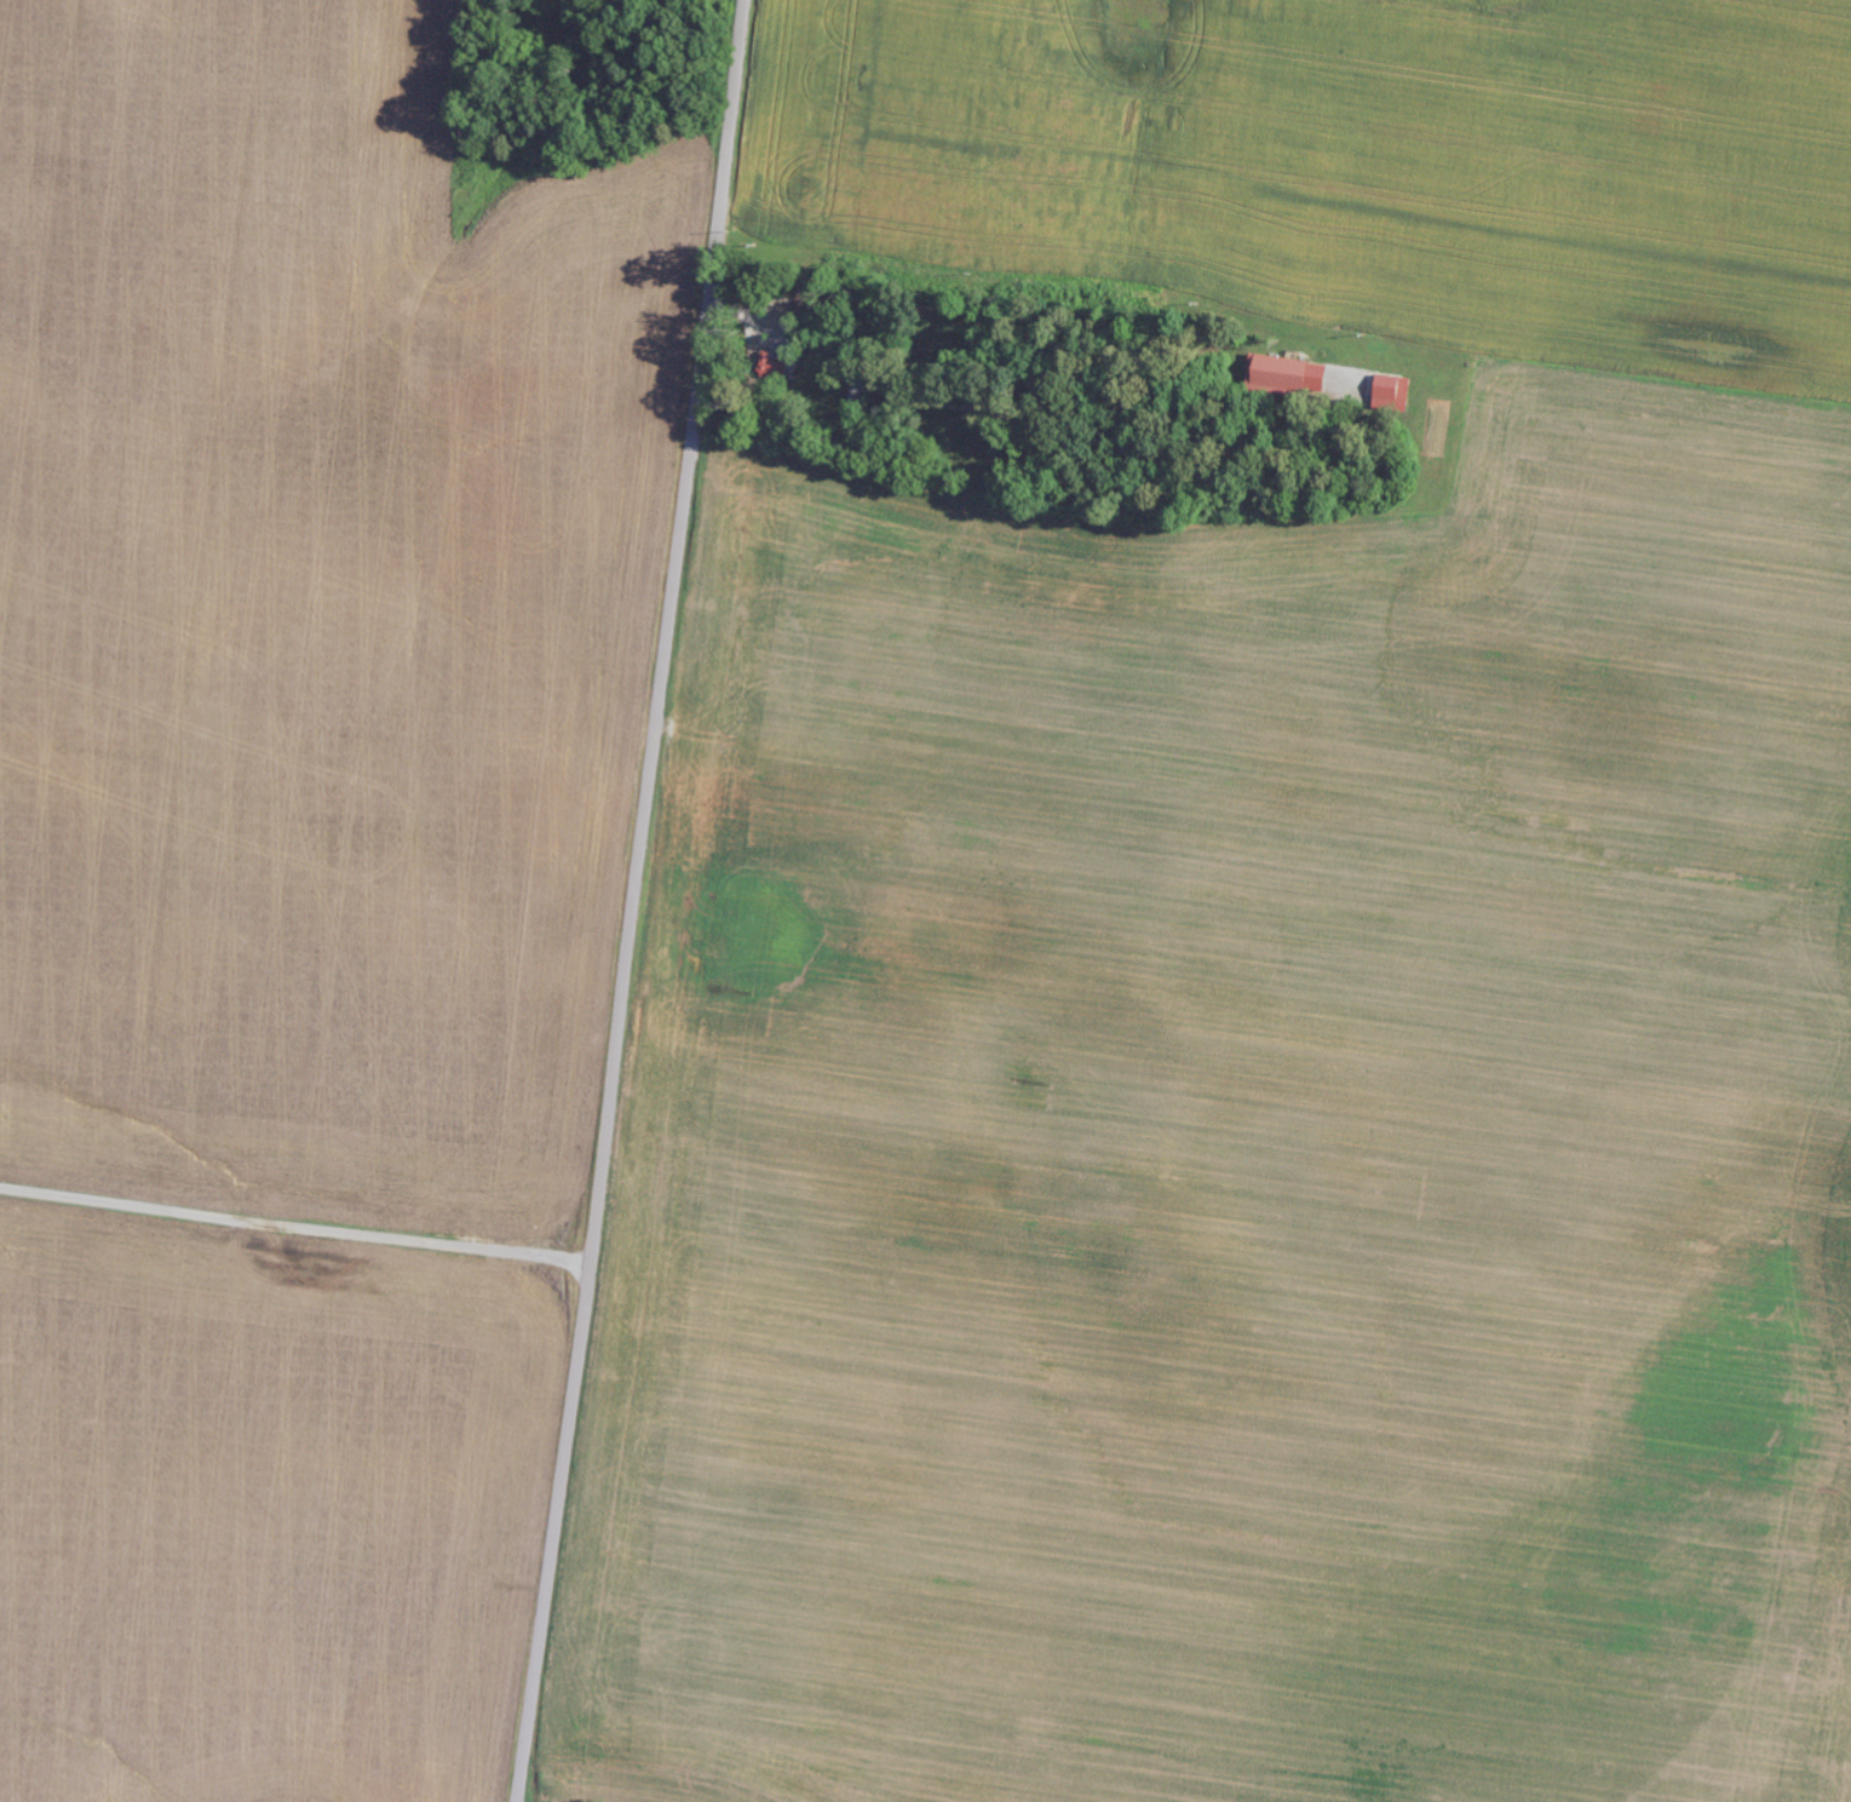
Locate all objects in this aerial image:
road: (1810, 5)
building: (772, 367)
building: (1288, 375)
road: (633, 901)
road: (293, 1240)
road: (287, 1354)

